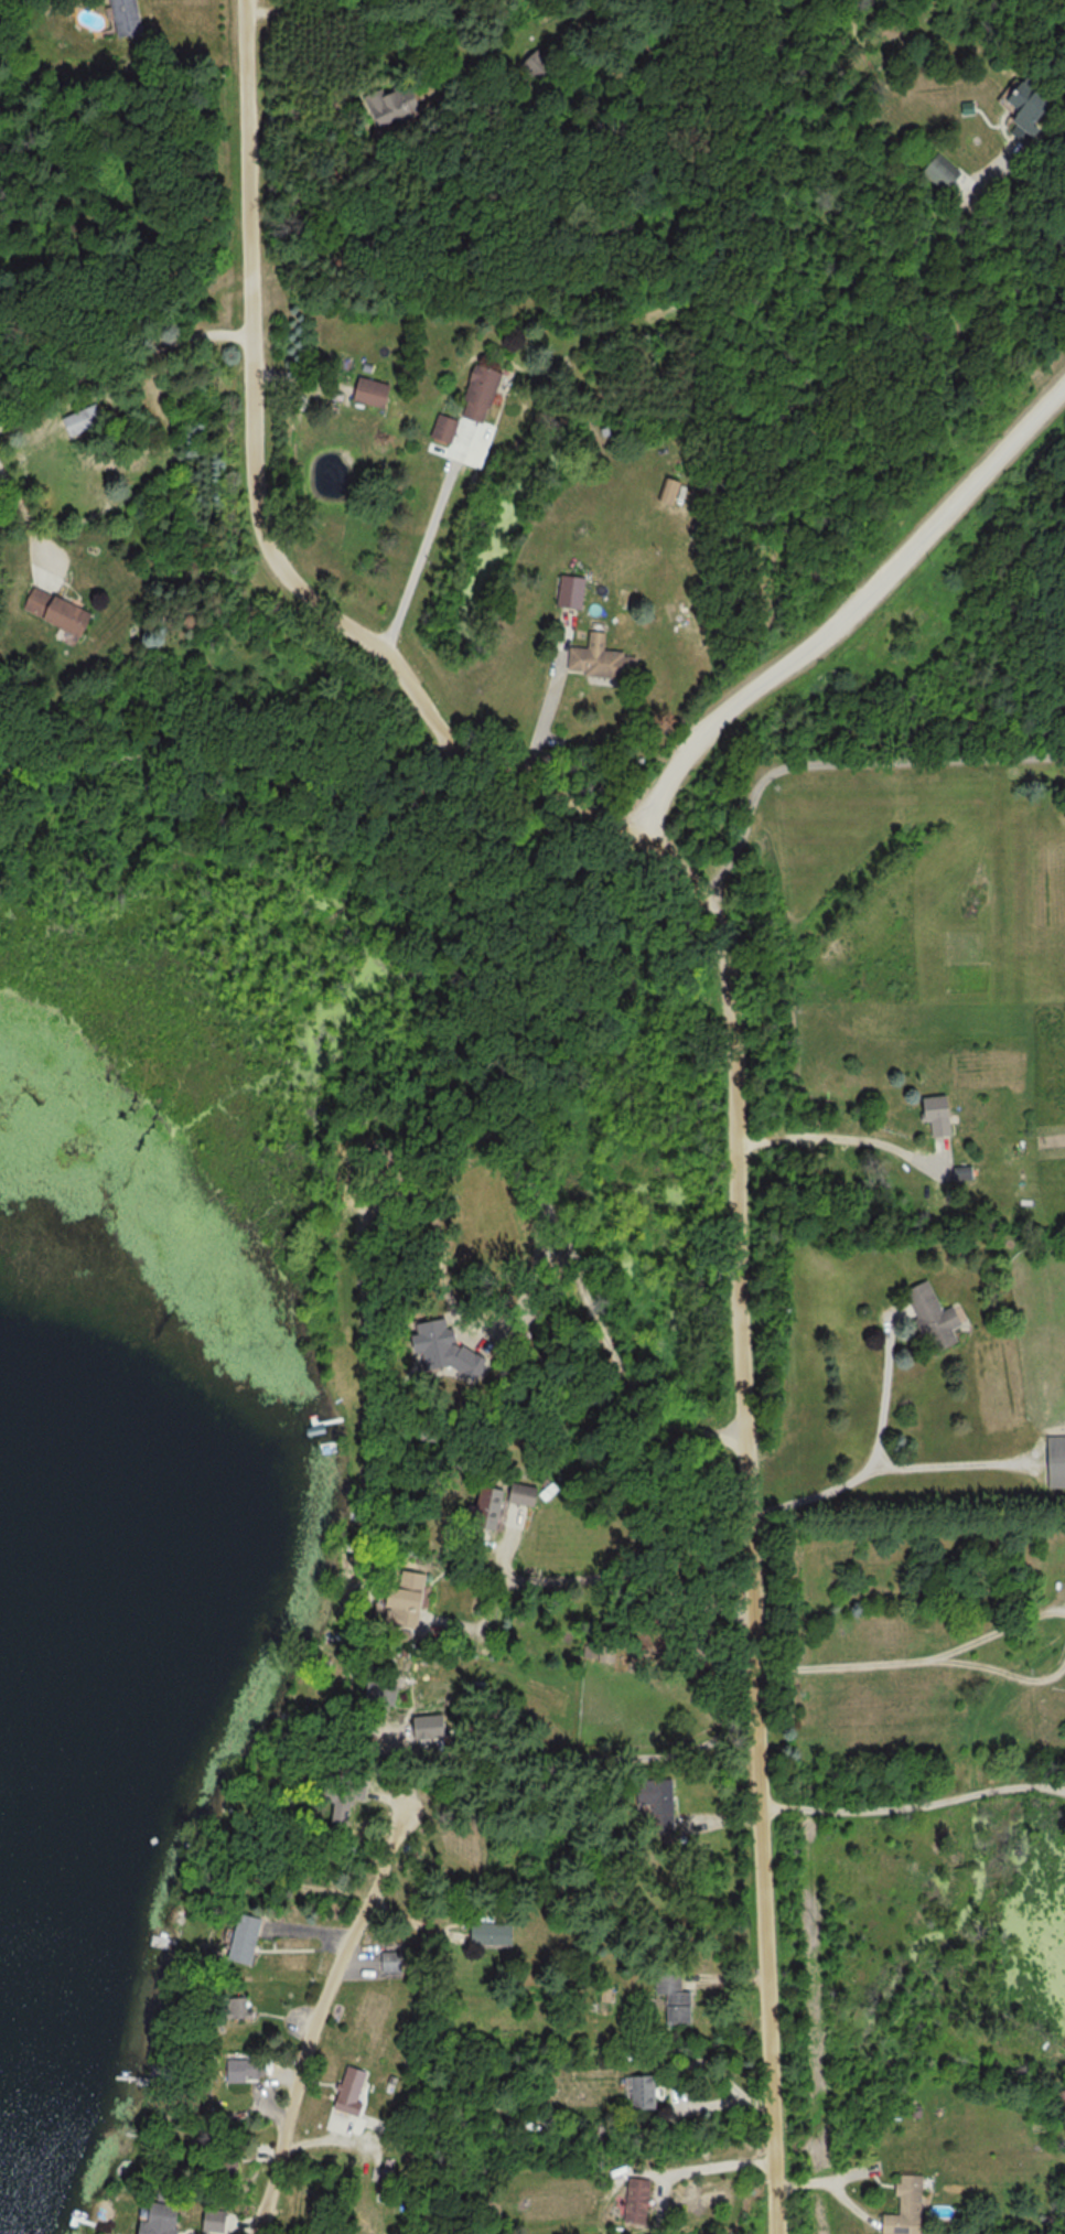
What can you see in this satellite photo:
building: (125, 17)
building: (537, 65)
building: (392, 101)
building: (1025, 109)
building: (938, 173)
road: (1040, 195)
road: (120, 355)
building: (370, 391)
building: (478, 393)
building: (76, 421)
building: (443, 429)
building: (667, 491)
road: (18, 504)
road: (427, 534)
road: (277, 556)
building: (570, 591)
road: (848, 609)
building: (55, 611)
building: (600, 659)
road: (552, 698)
road: (847, 759)
road: (260, 765)
park: (343, 921)
building: (936, 1113)
road: (829, 1136)
building: (962, 1172)
road: (583, 1285)
building: (932, 1317)
road: (884, 1392)
building: (1055, 1461)
road: (945, 1465)
building: (521, 1494)
road: (816, 1494)
building: (486, 1508)
road: (756, 1566)
road: (636, 1568)
building: (406, 1598)
building: (598, 1653)
road: (917, 1661)
building: (379, 1694)
building: (337, 1797)
building: (656, 1804)
road: (917, 1806)
building: (490, 1934)
building: (244, 1938)
building: (390, 1962)
road: (342, 1981)
building: (673, 1996)
building: (232, 2009)
building: (233, 2071)
building: (351, 2087)
building: (642, 2093)
road: (716, 2155)
building: (641, 2200)
building: (910, 2206)
building: (163, 2219)
building: (218, 2220)

